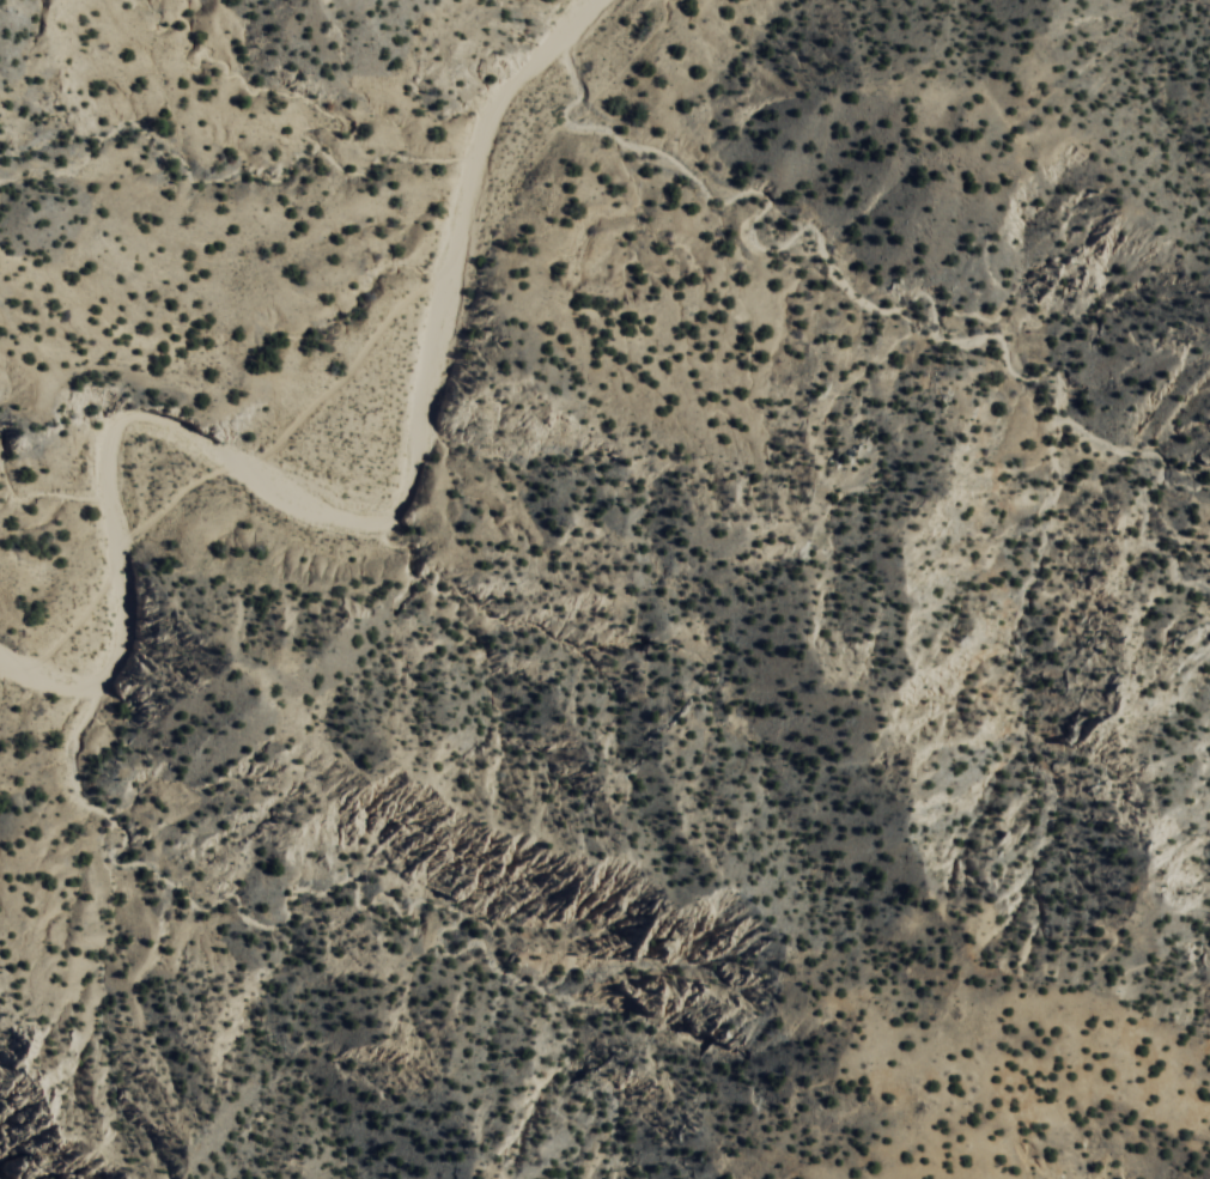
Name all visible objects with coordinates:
road: (335, 370)

